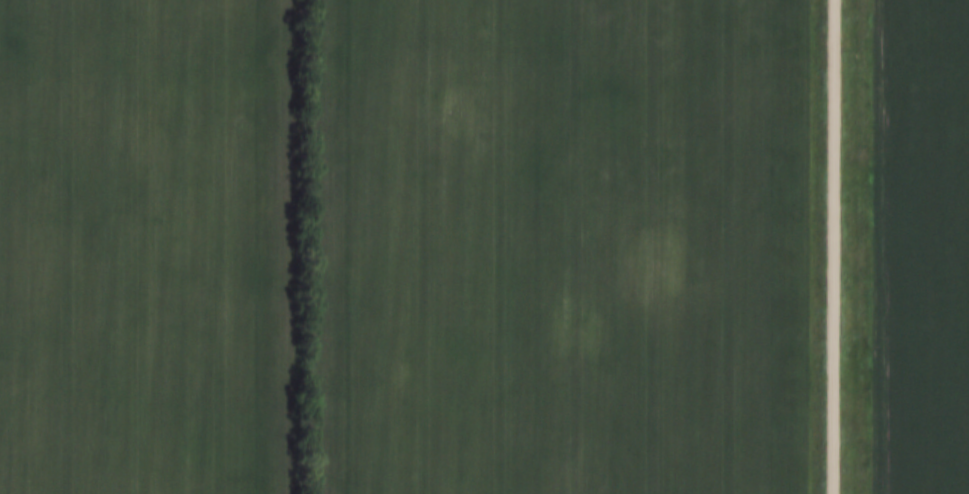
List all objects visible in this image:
road: (835, 247)

